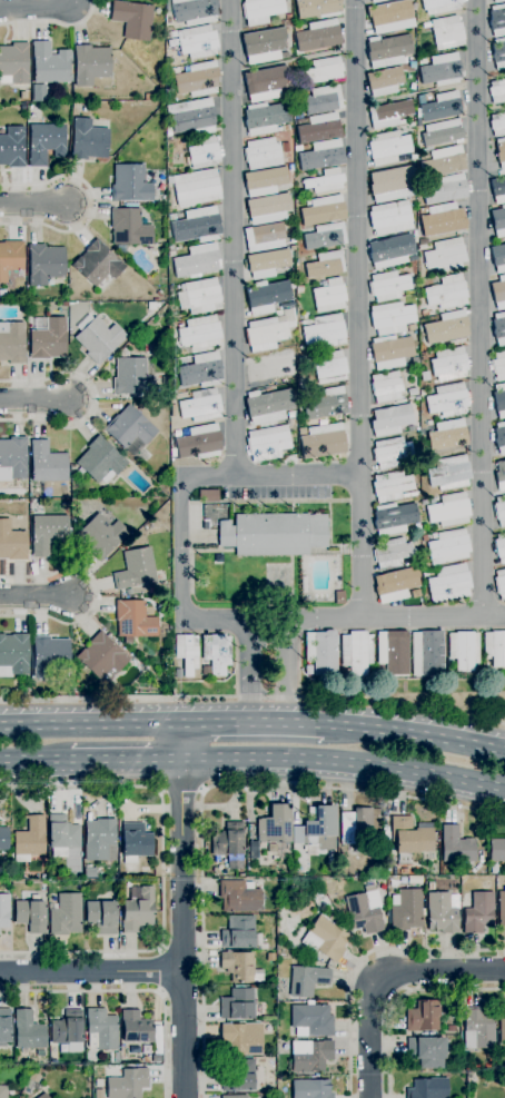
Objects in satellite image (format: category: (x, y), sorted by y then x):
building: (376, 1)
building: (497, 1)
road: (38, 6)
building: (439, 6)
building: (317, 8)
building: (260, 10)
building: (195, 11)
building: (288, 17)
building: (133, 19)
building: (497, 20)
building: (386, 21)
road: (53, 24)
building: (447, 32)
building: (317, 36)
building: (197, 41)
building: (264, 44)
building: (388, 50)
building: (498, 53)
road: (293, 60)
building: (422, 61)
building: (13, 63)
building: (50, 63)
building: (91, 63)
building: (324, 70)
building: (440, 70)
building: (198, 79)
building: (385, 81)
building: (266, 83)
building: (497, 91)
building: (37, 92)
road: (416, 92)
building: (23, 95)
building: (148, 97)
building: (324, 99)
building: (440, 107)
building: (389, 113)
building: (192, 117)
building: (265, 118)
building: (497, 125)
building: (285, 128)
building: (319, 128)
building: (443, 132)
building: (88, 140)
building: (46, 142)
building: (12, 147)
building: (286, 147)
building: (388, 147)
building: (298, 148)
building: (204, 152)
building: (501, 152)
building: (263, 154)
building: (323, 155)
building: (445, 160)
building: (290, 167)
building: (326, 180)
building: (265, 181)
building: (130, 184)
building: (392, 184)
building: (196, 187)
building: (445, 189)
building: (498, 189)
road: (93, 204)
road: (36, 206)
building: (268, 208)
building: (324, 210)
building: (172, 217)
building: (390, 218)
building: (443, 219)
building: (498, 221)
building: (197, 226)
building: (130, 228)
building: (326, 236)
road: (232, 237)
building: (265, 237)
building: (390, 246)
building: (171, 254)
building: (446, 255)
building: (10, 257)
building: (498, 257)
building: (197, 261)
building: (267, 263)
building: (44, 264)
building: (97, 264)
building: (326, 264)
building: (388, 286)
building: (447, 291)
building: (2, 293)
building: (499, 293)
building: (200, 296)
building: (267, 296)
building: (329, 296)
road: (478, 307)
road: (357, 309)
building: (426, 313)
building: (392, 317)
building: (410, 327)
building: (499, 328)
building: (446, 330)
building: (325, 332)
building: (200, 333)
building: (266, 333)
building: (48, 338)
building: (98, 338)
building: (12, 343)
building: (390, 352)
building: (424, 357)
building: (303, 359)
building: (415, 362)
building: (449, 364)
building: (498, 365)
building: (330, 367)
building: (268, 368)
building: (201, 370)
building: (132, 377)
building: (386, 386)
building: (413, 392)
building: (423, 393)
road: (95, 399)
building: (320, 399)
building: (448, 399)
building: (499, 399)
road: (36, 400)
building: (201, 405)
building: (269, 406)
building: (392, 419)
building: (129, 427)
building: (177, 433)
building: (447, 435)
building: (499, 437)
building: (323, 441)
building: (200, 442)
building: (268, 443)
building: (392, 452)
building: (13, 458)
building: (100, 461)
building: (47, 463)
building: (449, 473)
building: (501, 474)
road: (297, 475)
building: (392, 485)
building: (409, 494)
building: (208, 495)
building: (432, 501)
building: (424, 502)
building: (449, 510)
building: (499, 510)
building: (394, 518)
building: (206, 525)
building: (48, 533)
building: (274, 534)
building: (101, 536)
building: (424, 537)
building: (12, 543)
building: (448, 546)
building: (499, 547)
building: (392, 553)
road: (181, 554)
building: (136, 568)
building: (425, 573)
building: (161, 575)
building: (448, 583)
building: (304, 584)
building: (395, 584)
building: (501, 584)
building: (128, 592)
road: (98, 595)
road: (37, 596)
building: (339, 596)
road: (377, 617)
building: (133, 620)
building: (495, 647)
building: (463, 651)
building: (217, 652)
building: (321, 652)
building: (357, 652)
building: (393, 652)
building: (187, 653)
building: (427, 653)
building: (48, 654)
building: (13, 655)
building: (101, 657)
road: (249, 671)
road: (287, 671)
road: (253, 696)
road: (257, 723)
road: (92, 724)
road: (417, 735)
road: (185, 742)
road: (346, 760)
road: (130, 762)
road: (38, 763)
road: (180, 790)
road: (202, 791)
building: (275, 825)
building: (356, 827)
building: (318, 829)
building: (62, 834)
building: (3, 839)
building: (29, 839)
building: (100, 840)
building: (408, 840)
building: (135, 842)
building: (229, 844)
building: (456, 845)
building: (497, 849)
building: (253, 850)
building: (330, 868)
road: (162, 869)
building: (146, 871)
building: (404, 871)
building: (224, 872)
building: (240, 874)
building: (8, 876)
building: (430, 886)
building: (239, 896)
building: (4, 910)
building: (406, 910)
building: (502, 910)
building: (138, 911)
building: (365, 911)
building: (443, 911)
building: (478, 911)
building: (31, 914)
building: (66, 914)
building: (102, 914)
road: (184, 929)
building: (239, 932)
building: (324, 938)
road: (362, 958)
building: (240, 967)
road: (160, 970)
road: (91, 971)
road: (382, 977)
building: (307, 980)
road: (132, 993)
road: (402, 997)
building: (238, 1003)
building: (423, 1016)
building: (311, 1020)
building: (4, 1026)
building: (478, 1027)
building: (136, 1028)
building: (450, 1028)
building: (101, 1029)
building: (68, 1030)
building: (502, 1030)
building: (29, 1032)
building: (241, 1038)
building: (427, 1051)
building: (310, 1055)
building: (117, 1058)
building: (238, 1075)
building: (127, 1084)
building: (427, 1088)
building: (311, 1089)
building: (4, 1091)
building: (42, 1096)
building: (235, 1096)

